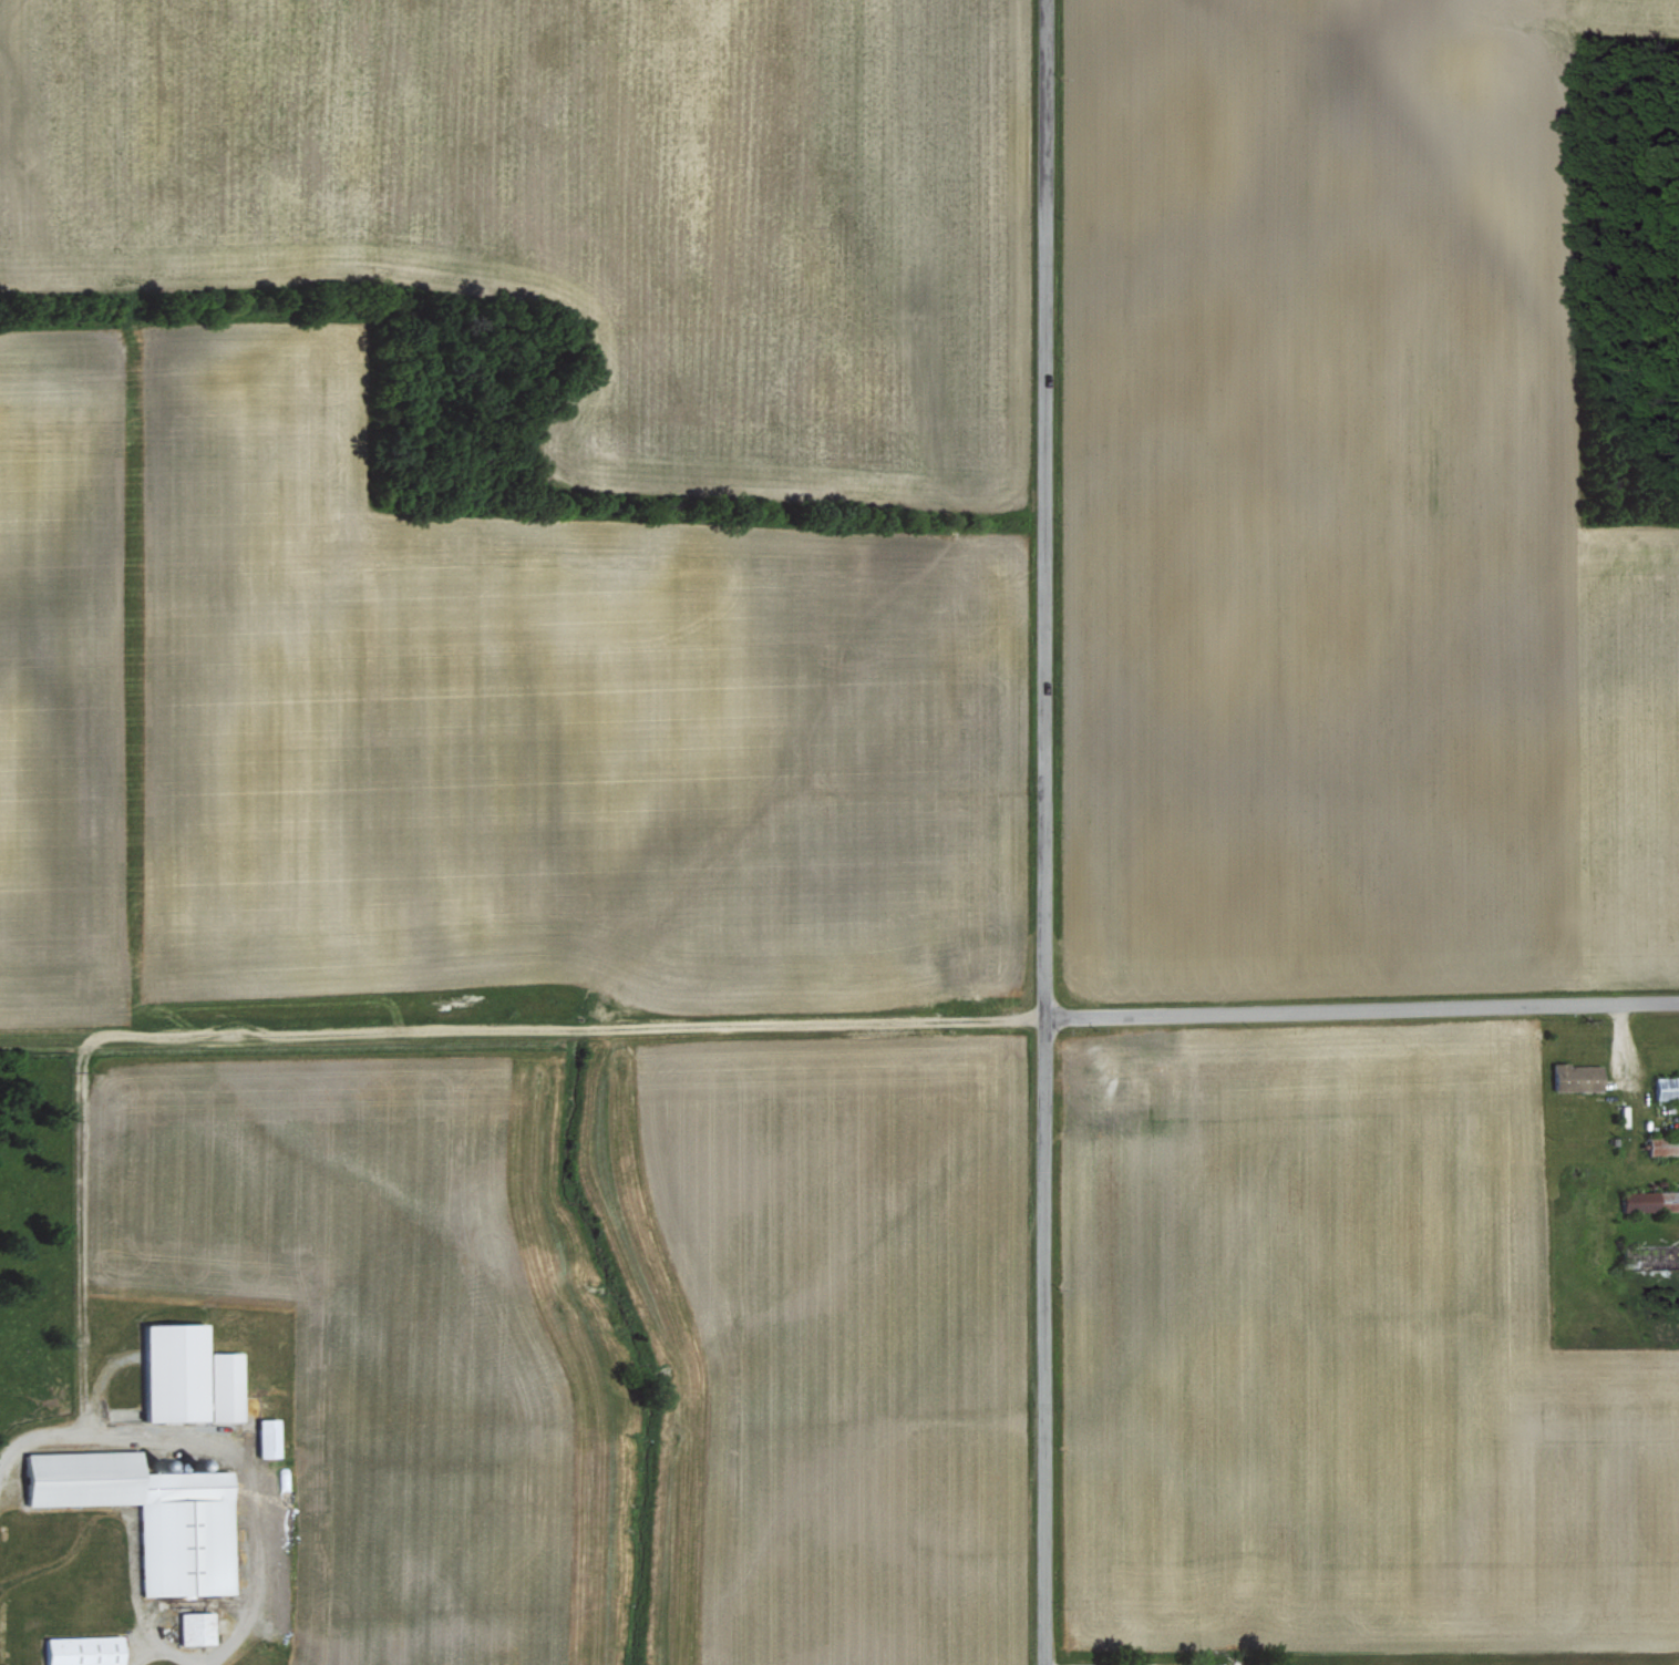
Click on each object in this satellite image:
road: (1040, 832)
road: (839, 1024)
building: (1570, 1076)
building: (1662, 1086)
building: (1647, 1199)
building: (193, 1374)
building: (269, 1436)
building: (153, 1512)
building: (197, 1626)
building: (85, 1649)
road: (161, 1652)

